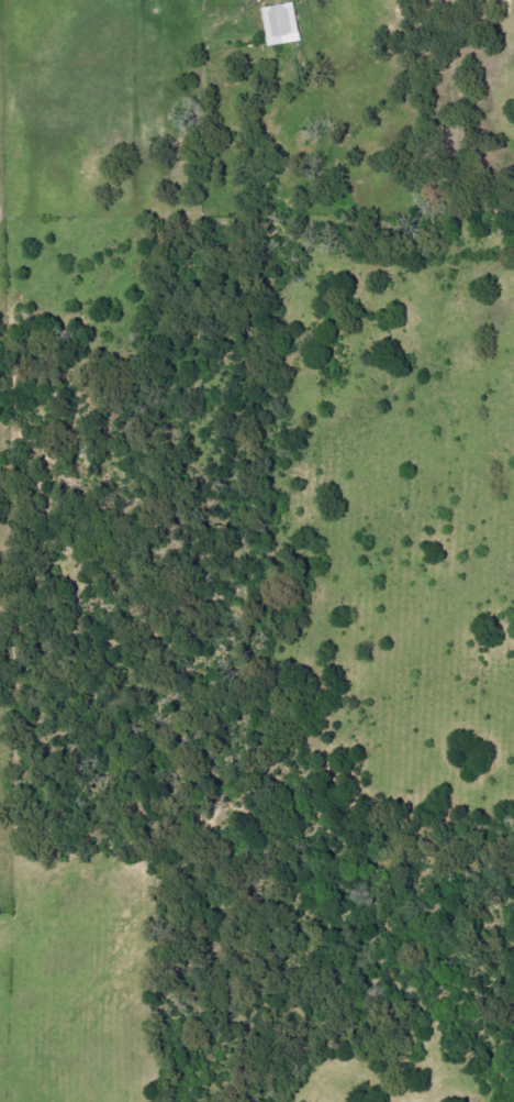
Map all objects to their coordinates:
building: (283, 24)

